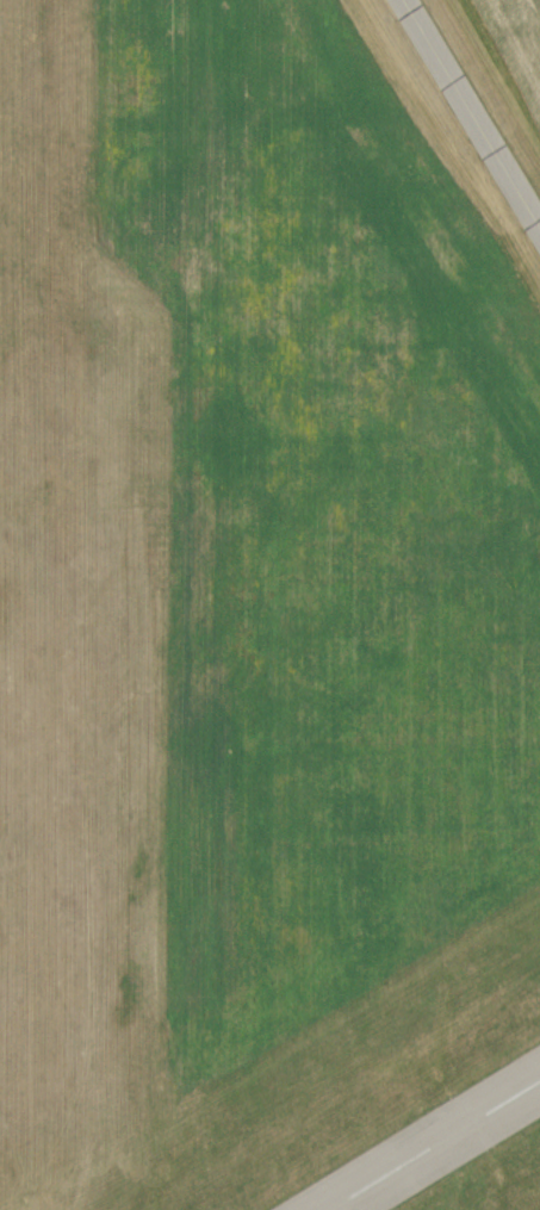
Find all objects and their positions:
crop: (519, 36)
airport taxiway: (470, 114)
airport runway: (434, 1144)
building: (375, 1192)

